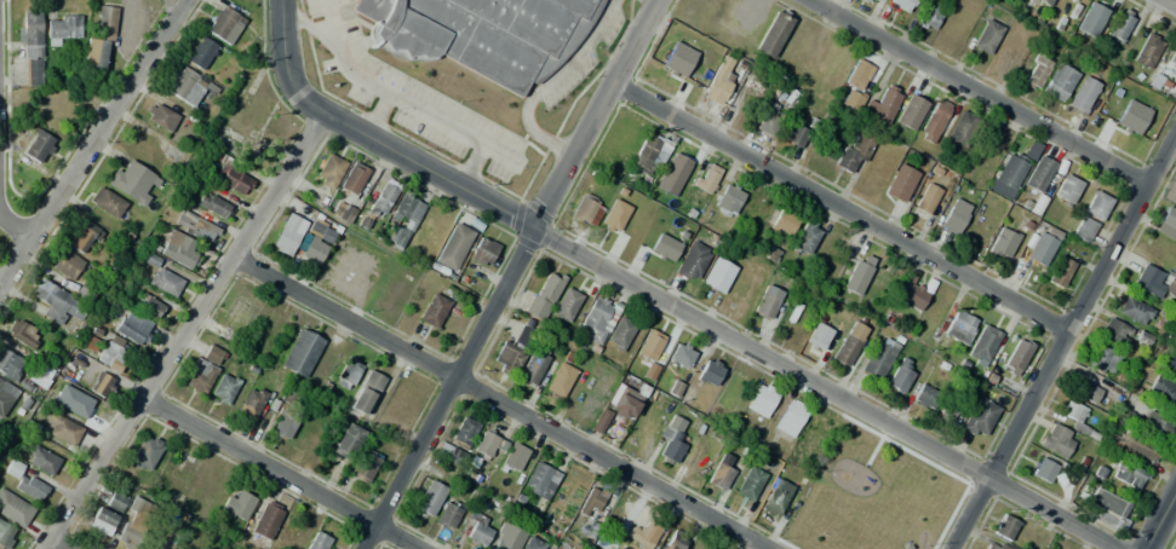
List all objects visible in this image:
building: (872, 0)
building: (873, 0)
building: (901, 4)
building: (1038, 4)
building: (928, 17)
building: (1090, 19)
building: (226, 22)
building: (1119, 24)
building: (61, 27)
building: (481, 34)
building: (773, 34)
building: (986, 36)
building: (99, 40)
building: (30, 48)
building: (1146, 51)
building: (201, 53)
building: (1172, 57)
building: (677, 59)
road: (280, 63)
building: (1034, 71)
building: (857, 73)
building: (718, 81)
building: (1057, 81)
building: (187, 85)
building: (753, 85)
building: (1082, 96)
road: (973, 97)
building: (851, 100)
building: (883, 103)
building: (910, 112)
road: (598, 114)
building: (160, 117)
building: (1131, 117)
building: (769, 120)
building: (934, 121)
building: (959, 127)
building: (794, 134)
road: (86, 138)
building: (39, 146)
building: (854, 150)
building: (1031, 150)
building: (649, 155)
road: (425, 169)
building: (1010, 169)
building: (328, 171)
building: (1038, 174)
building: (229, 177)
building: (352, 178)
building: (706, 178)
building: (132, 181)
building: (900, 183)
building: (1066, 189)
building: (728, 196)
building: (927, 198)
building: (382, 200)
building: (105, 202)
building: (213, 206)
building: (1096, 206)
road: (845, 207)
building: (586, 210)
building: (342, 212)
building: (614, 216)
building: (1168, 216)
building: (953, 218)
building: (406, 219)
building: (784, 223)
road: (13, 225)
building: (195, 225)
building: (1083, 229)
building: (288, 235)
building: (84, 237)
building: (804, 237)
building: (314, 243)
building: (1003, 243)
building: (452, 247)
building: (664, 248)
building: (1039, 249)
building: (482, 252)
building: (180, 253)
building: (149, 260)
building: (692, 261)
building: (65, 264)
building: (1059, 272)
building: (717, 274)
building: (856, 276)
building: (880, 278)
building: (1148, 281)
building: (164, 282)
building: (85, 290)
building: (910, 295)
building: (543, 296)
building: (765, 301)
building: (57, 302)
building: (566, 305)
building: (148, 306)
building: (432, 311)
building: (1132, 311)
building: (239, 312)
building: (597, 319)
building: (133, 326)
building: (959, 326)
building: (23, 333)
road: (190, 333)
building: (619, 334)
building: (1114, 334)
building: (816, 337)
building: (848, 343)
building: (1175, 343)
building: (649, 345)
building: (981, 345)
road: (1065, 345)
building: (1175, 346)
building: (512, 352)
building: (302, 353)
building: (110, 354)
building: (681, 354)
building: (1016, 356)
building: (877, 358)
building: (1101, 360)
building: (1169, 363)
building: (8, 364)
building: (533, 366)
building: (202, 368)
building: (348, 372)
building: (709, 372)
building: (39, 376)
building: (897, 376)
building: (560, 380)
building: (101, 385)
building: (223, 388)
road: (451, 388)
road: (824, 389)
building: (1088, 392)
building: (1160, 392)
building: (366, 393)
building: (5, 395)
building: (288, 395)
building: (924, 397)
building: (761, 399)
building: (251, 401)
road: (503, 401)
building: (625, 403)
building: (84, 405)
building: (947, 411)
building: (1073, 411)
building: (790, 417)
building: (977, 417)
building: (283, 423)
building: (600, 423)
building: (1155, 427)
building: (62, 430)
building: (464, 432)
building: (670, 440)
building: (1056, 440)
building: (346, 441)
building: (486, 445)
building: (1131, 447)
building: (145, 452)
building: (449, 455)
building: (514, 457)
building: (41, 460)
building: (363, 466)
building: (12, 469)
building: (1043, 470)
building: (718, 473)
road: (279, 474)
building: (1128, 474)
building: (540, 480)
building: (748, 482)
building: (30, 485)
building: (776, 496)
park: (871, 496)
building: (429, 498)
building: (115, 502)
building: (590, 503)
building: (236, 504)
building: (1107, 507)
building: (13, 509)
building: (447, 516)
road: (1159, 519)
building: (101, 520)
building: (133, 522)
building: (264, 525)
building: (1004, 526)
building: (480, 531)
building: (644, 533)
building: (5, 534)
building: (507, 537)
building: (676, 541)
building: (320, 542)
building: (532, 543)
road: (69, 544)
building: (183, 545)
building: (993, 545)

